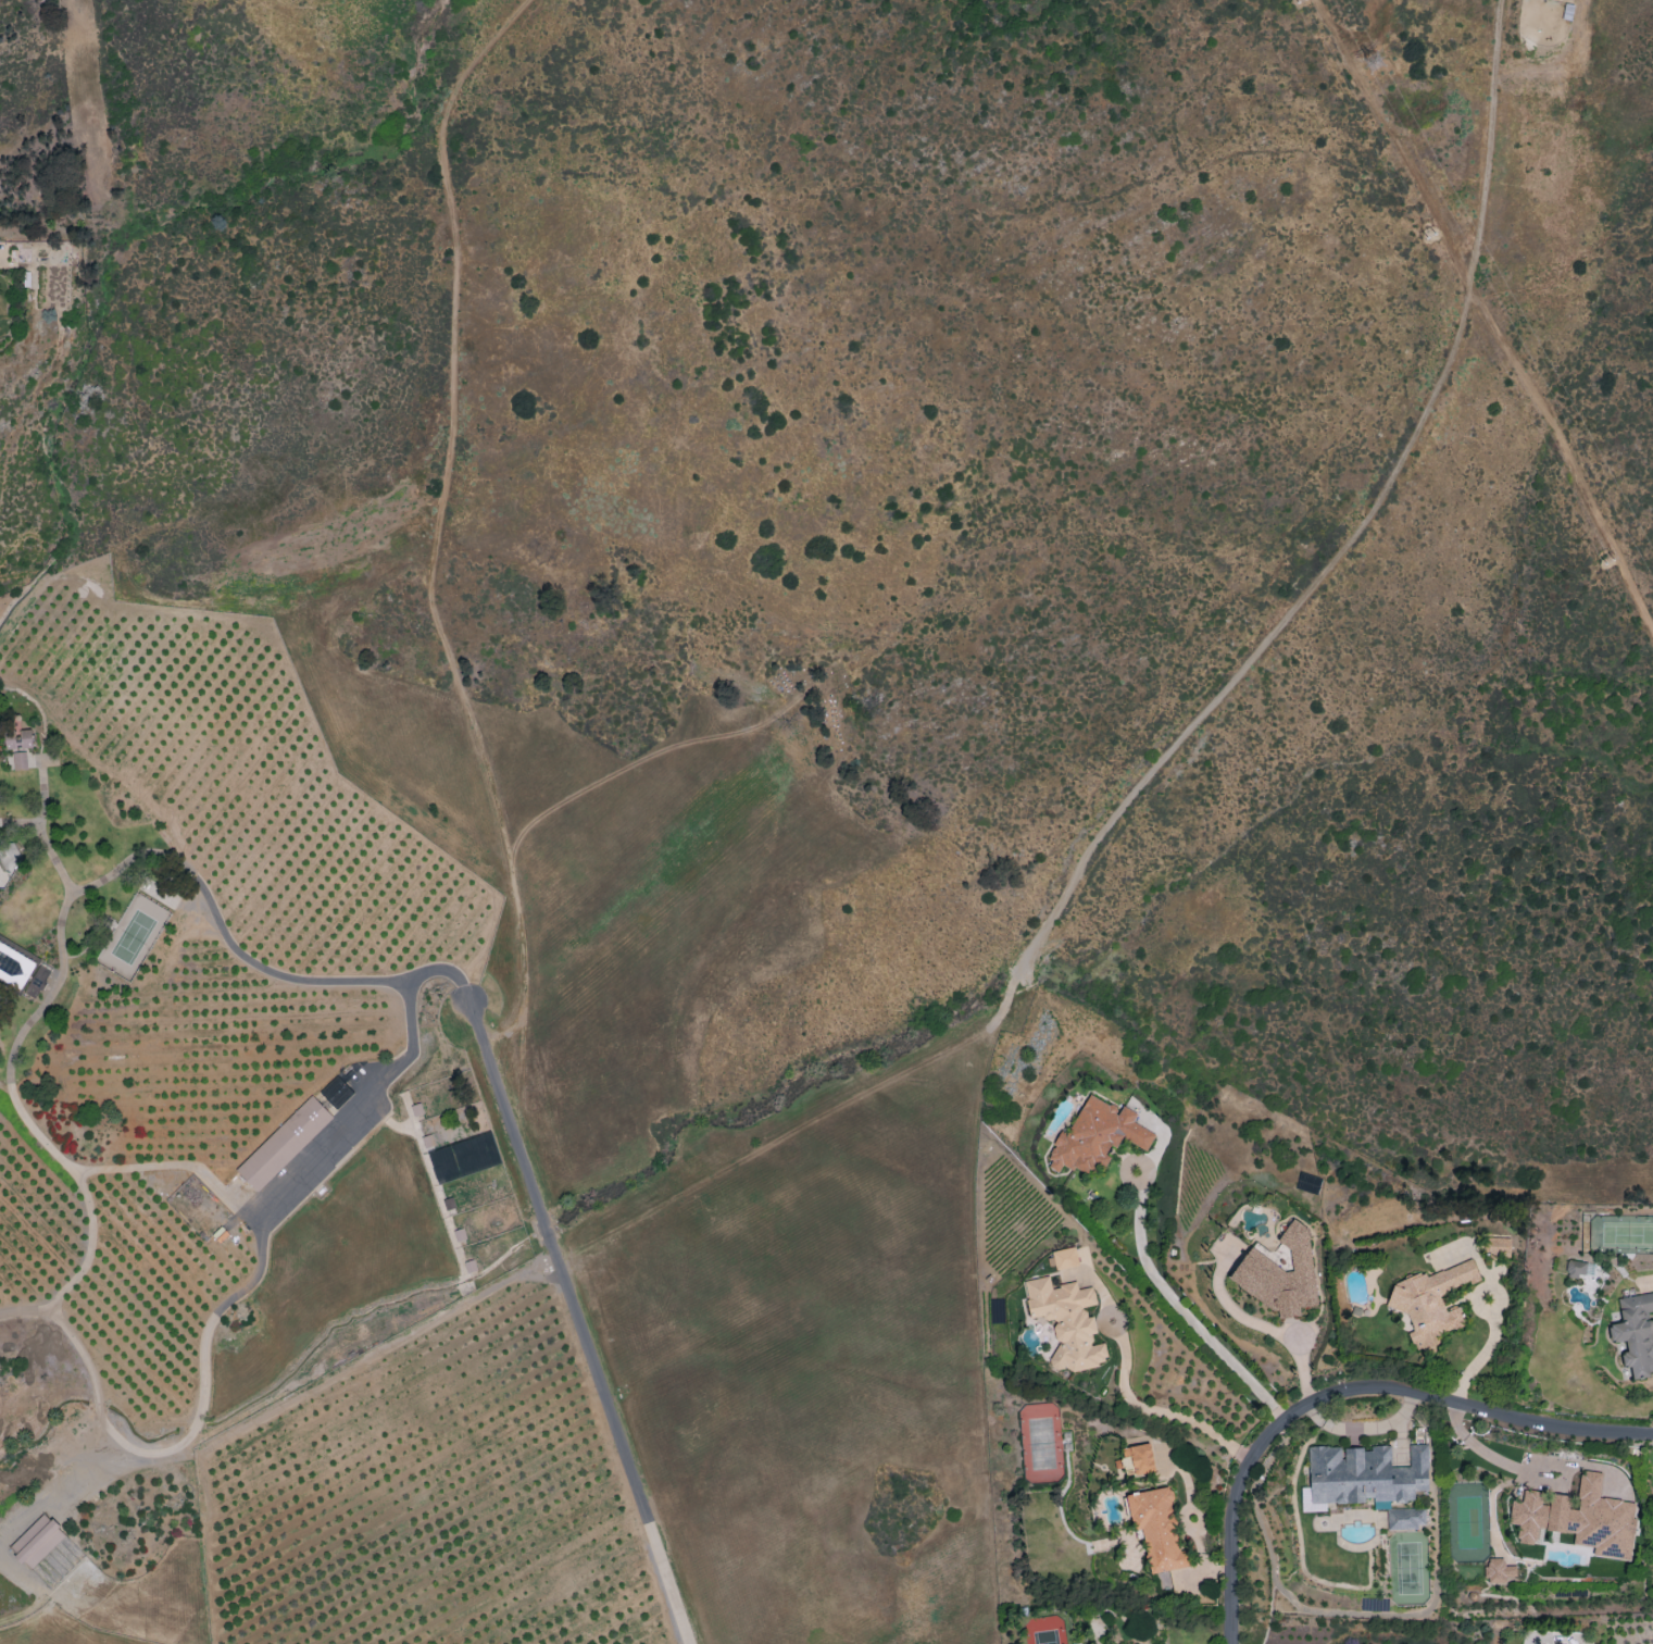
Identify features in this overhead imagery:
power tower: (1374, 63)
power tower: (1427, 228)
road: (1566, 458)
power tower: (1603, 557)
road: (433, 611)
park: (813, 697)
building: (18, 739)
road: (1175, 743)
building: (20, 760)
building: (14, 966)
road: (343, 981)
building: (37, 982)
road: (526, 1006)
building: (336, 1092)
building: (1097, 1136)
building: (284, 1143)
building: (464, 1157)
building: (1307, 1183)
road: (536, 1201)
building: (1498, 1247)
building: (1065, 1258)
building: (1576, 1268)
building: (1280, 1274)
road: (1475, 1298)
building: (1430, 1301)
road: (1498, 1307)
road: (1180, 1308)
road: (24, 1311)
building: (1066, 1321)
road: (1263, 1327)
building: (1635, 1333)
road: (1347, 1391)
road: (1153, 1409)
road: (625, 1455)
building: (1138, 1459)
building: (1362, 1475)
building: (1405, 1518)
building: (1579, 1518)
building: (1156, 1529)
building: (37, 1541)
building: (1498, 1571)

